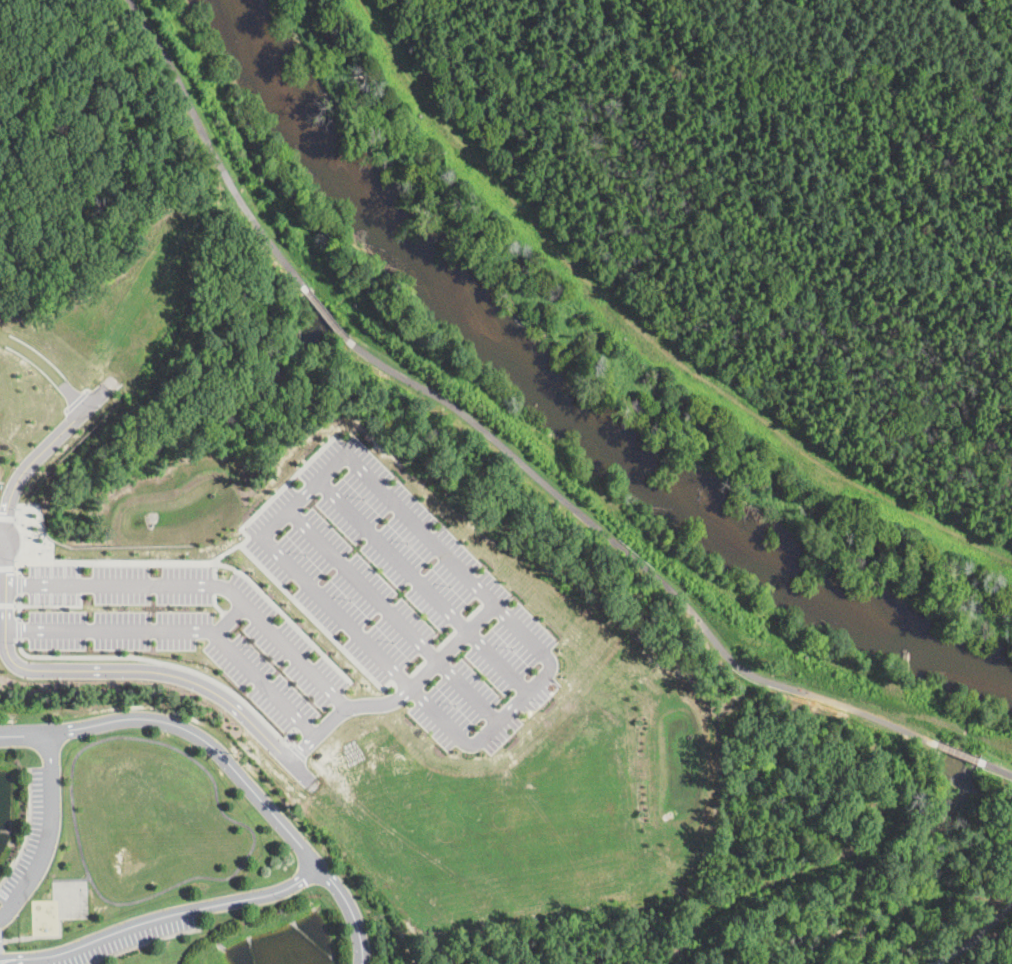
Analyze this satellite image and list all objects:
park: (667, 50)
road: (48, 368)
park: (408, 372)
river: (583, 381)
road: (480, 426)
road: (280, 488)
road: (7, 515)
road: (3, 531)
road: (24, 544)
road: (3, 550)
road: (205, 562)
road: (8, 567)
road: (19, 583)
road: (201, 585)
road: (425, 587)
road: (320, 596)
parking lot: (406, 597)
road: (7, 604)
road: (53, 604)
road: (216, 605)
road: (18, 606)
road: (300, 606)
road: (395, 616)
road: (230, 618)
parking lot: (184, 627)
road: (18, 629)
road: (183, 630)
road: (164, 662)
road: (18, 664)
road: (401, 697)
road: (289, 733)
road: (299, 752)
road: (957, 752)
road: (229, 763)
road: (996, 769)
road: (216, 786)
road: (27, 829)
road: (48, 829)
road: (71, 878)
road: (169, 912)
road: (976, 938)
road: (142, 943)
building: (0, 944)
road: (17, 957)

